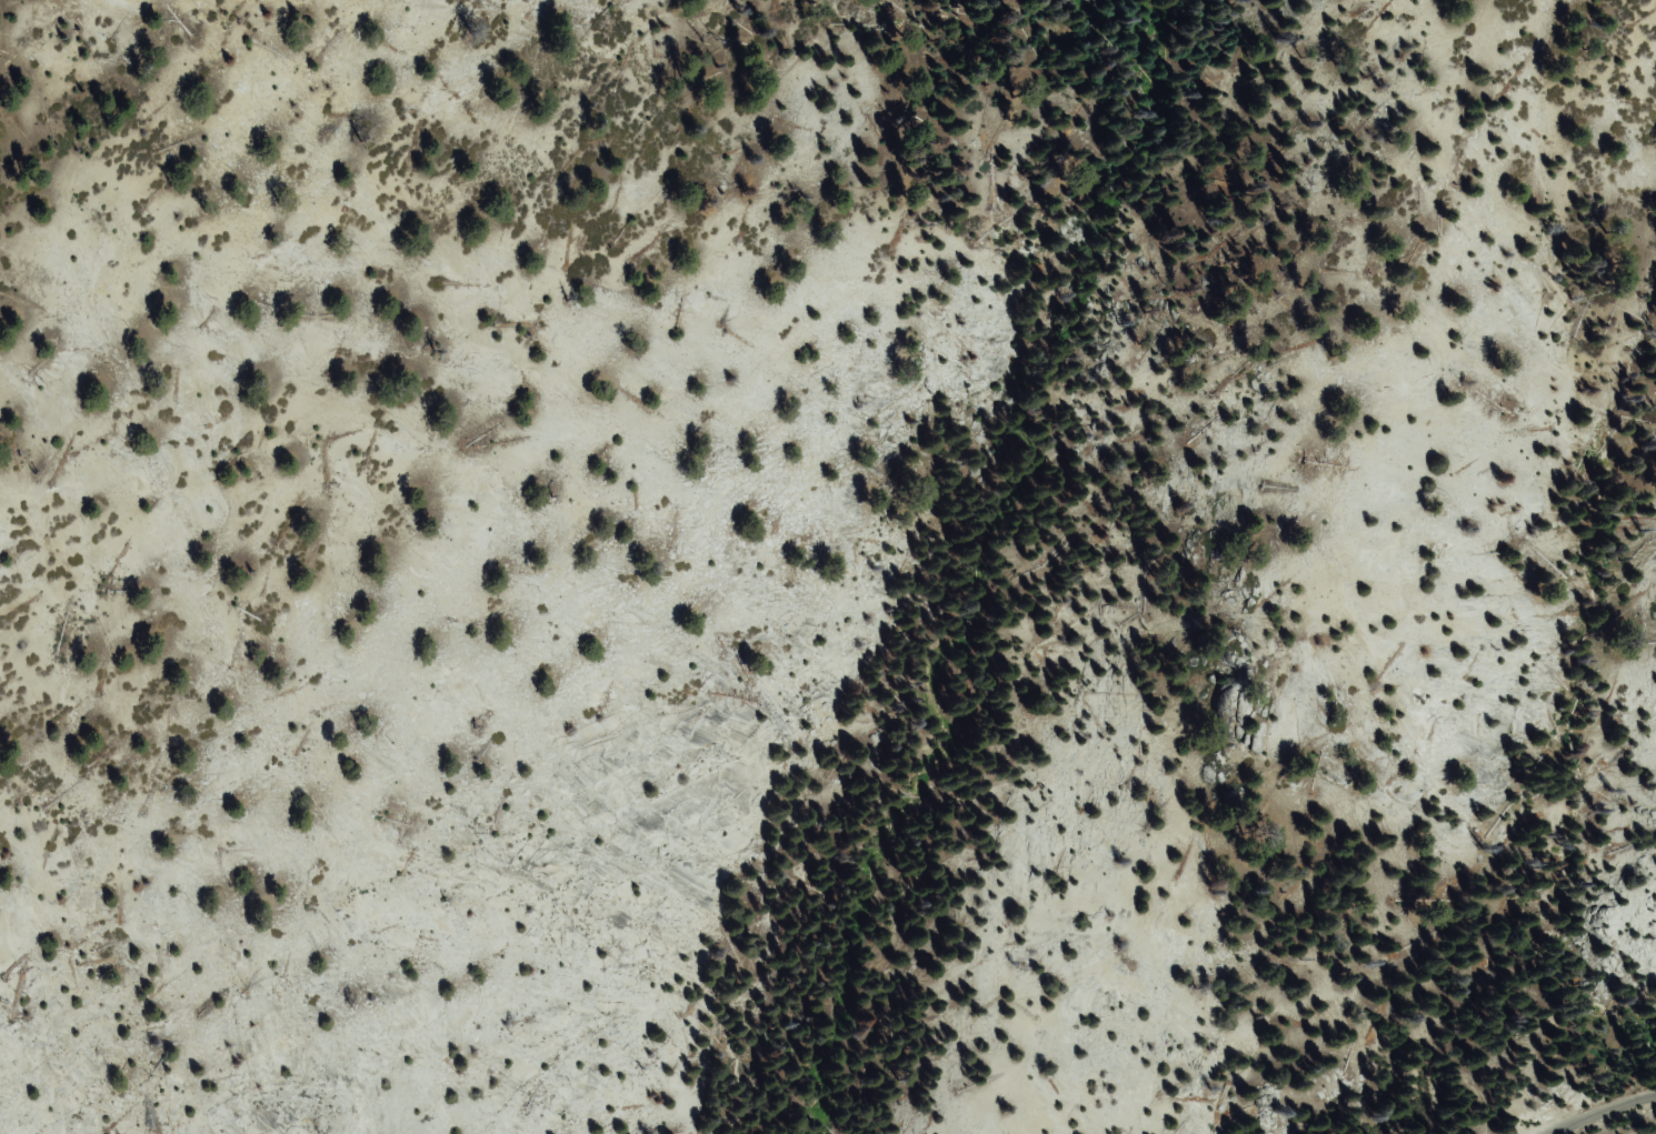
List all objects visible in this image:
road: (1600, 1112)

